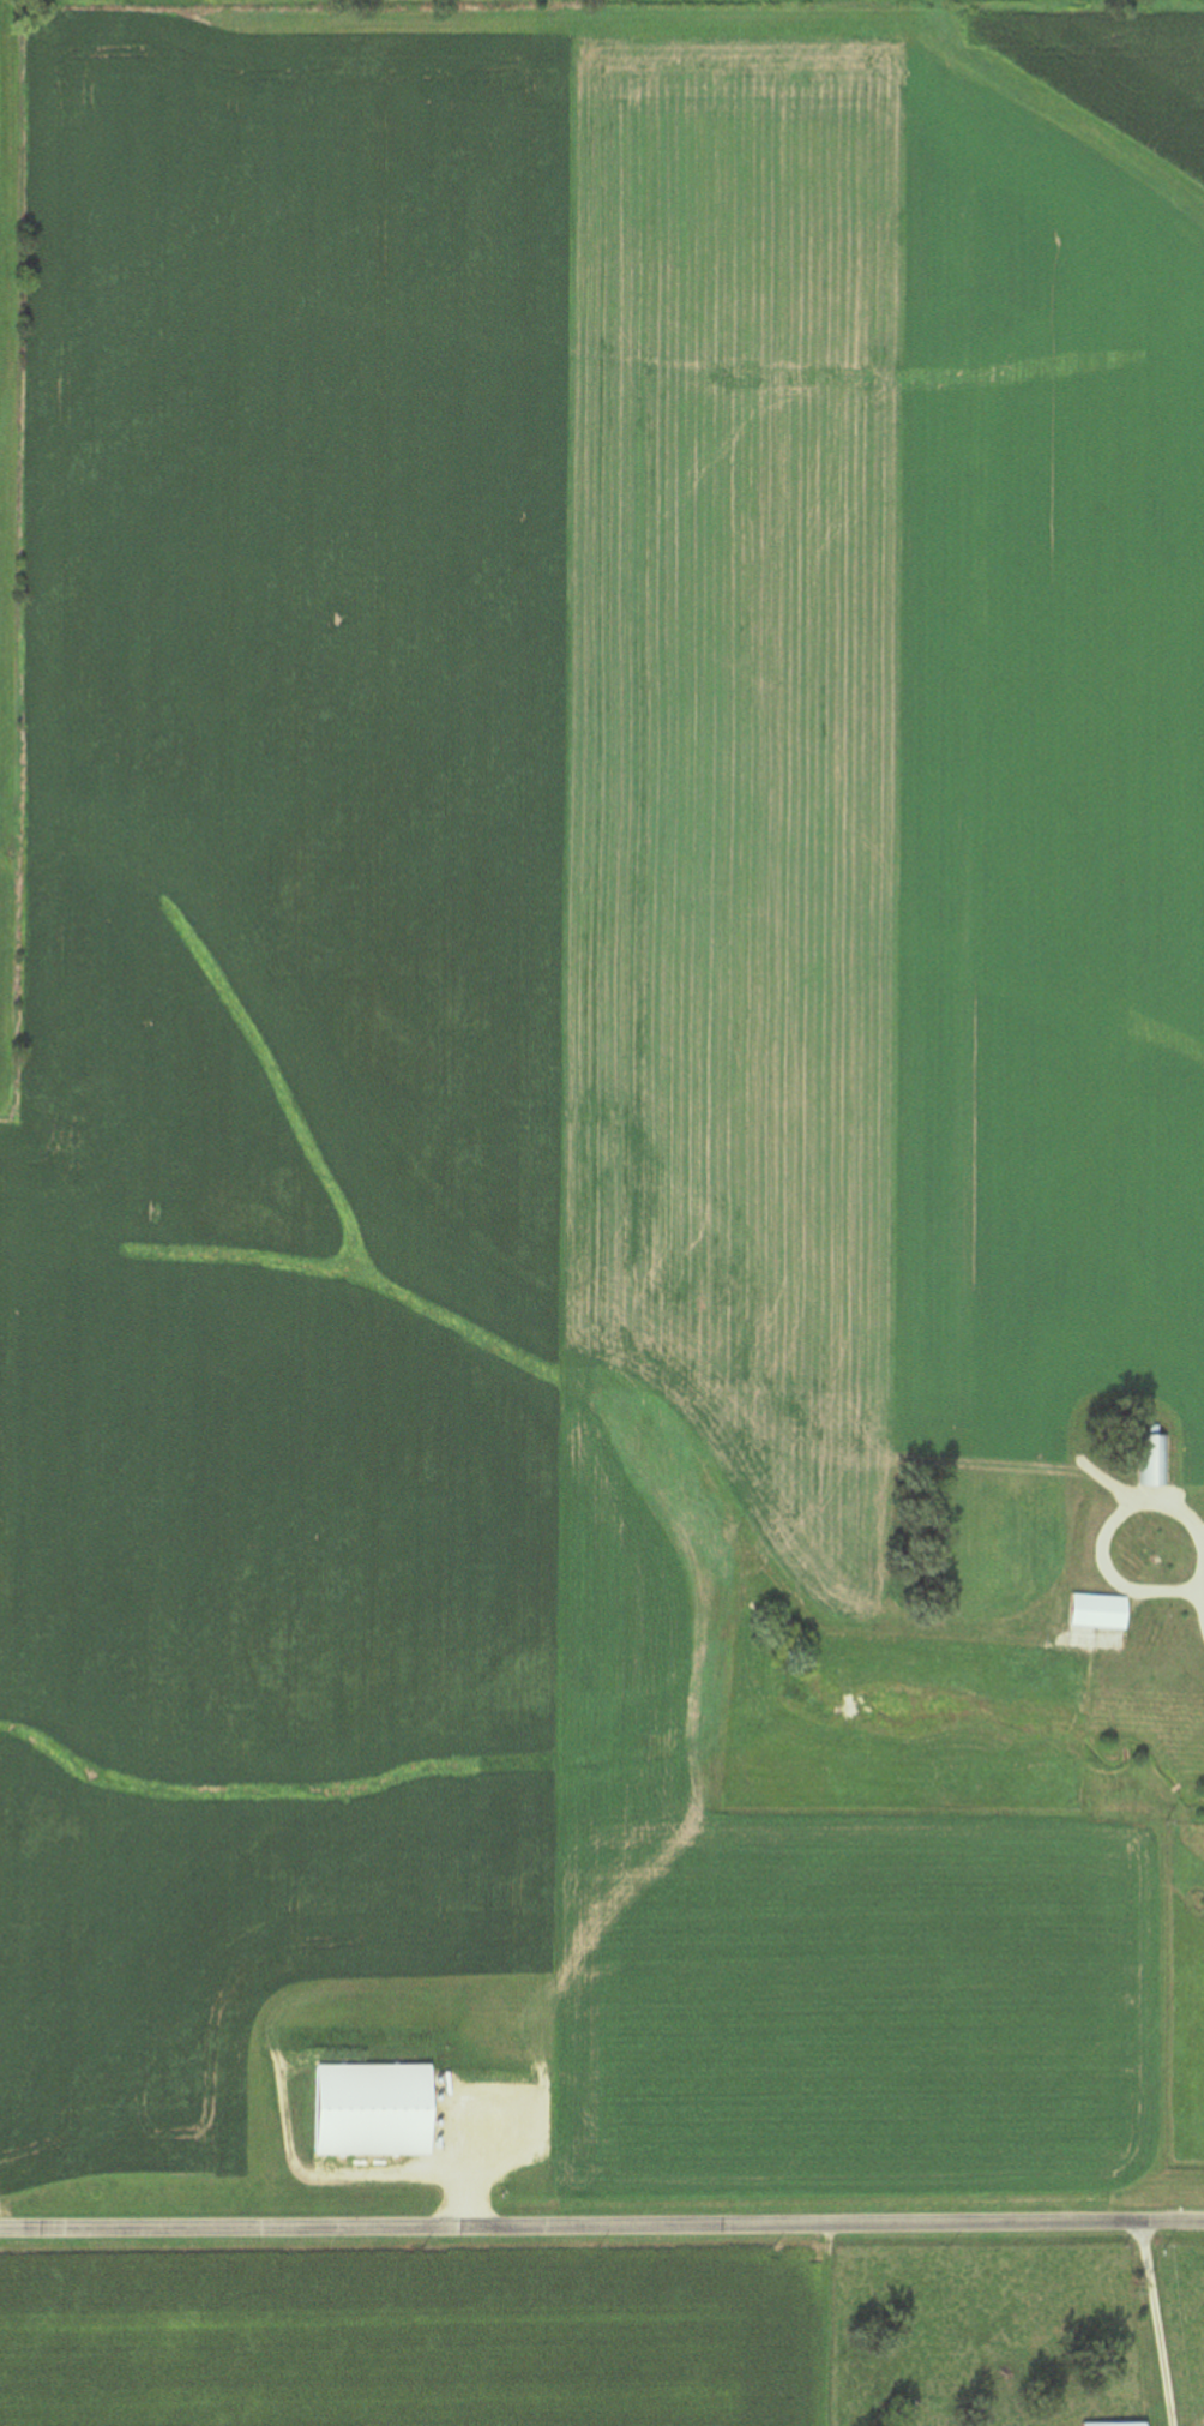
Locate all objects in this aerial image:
building: (1156, 1460)
building: (1102, 1611)
road: (1203, 1639)
road: (601, 2226)
building: (1120, 2422)

